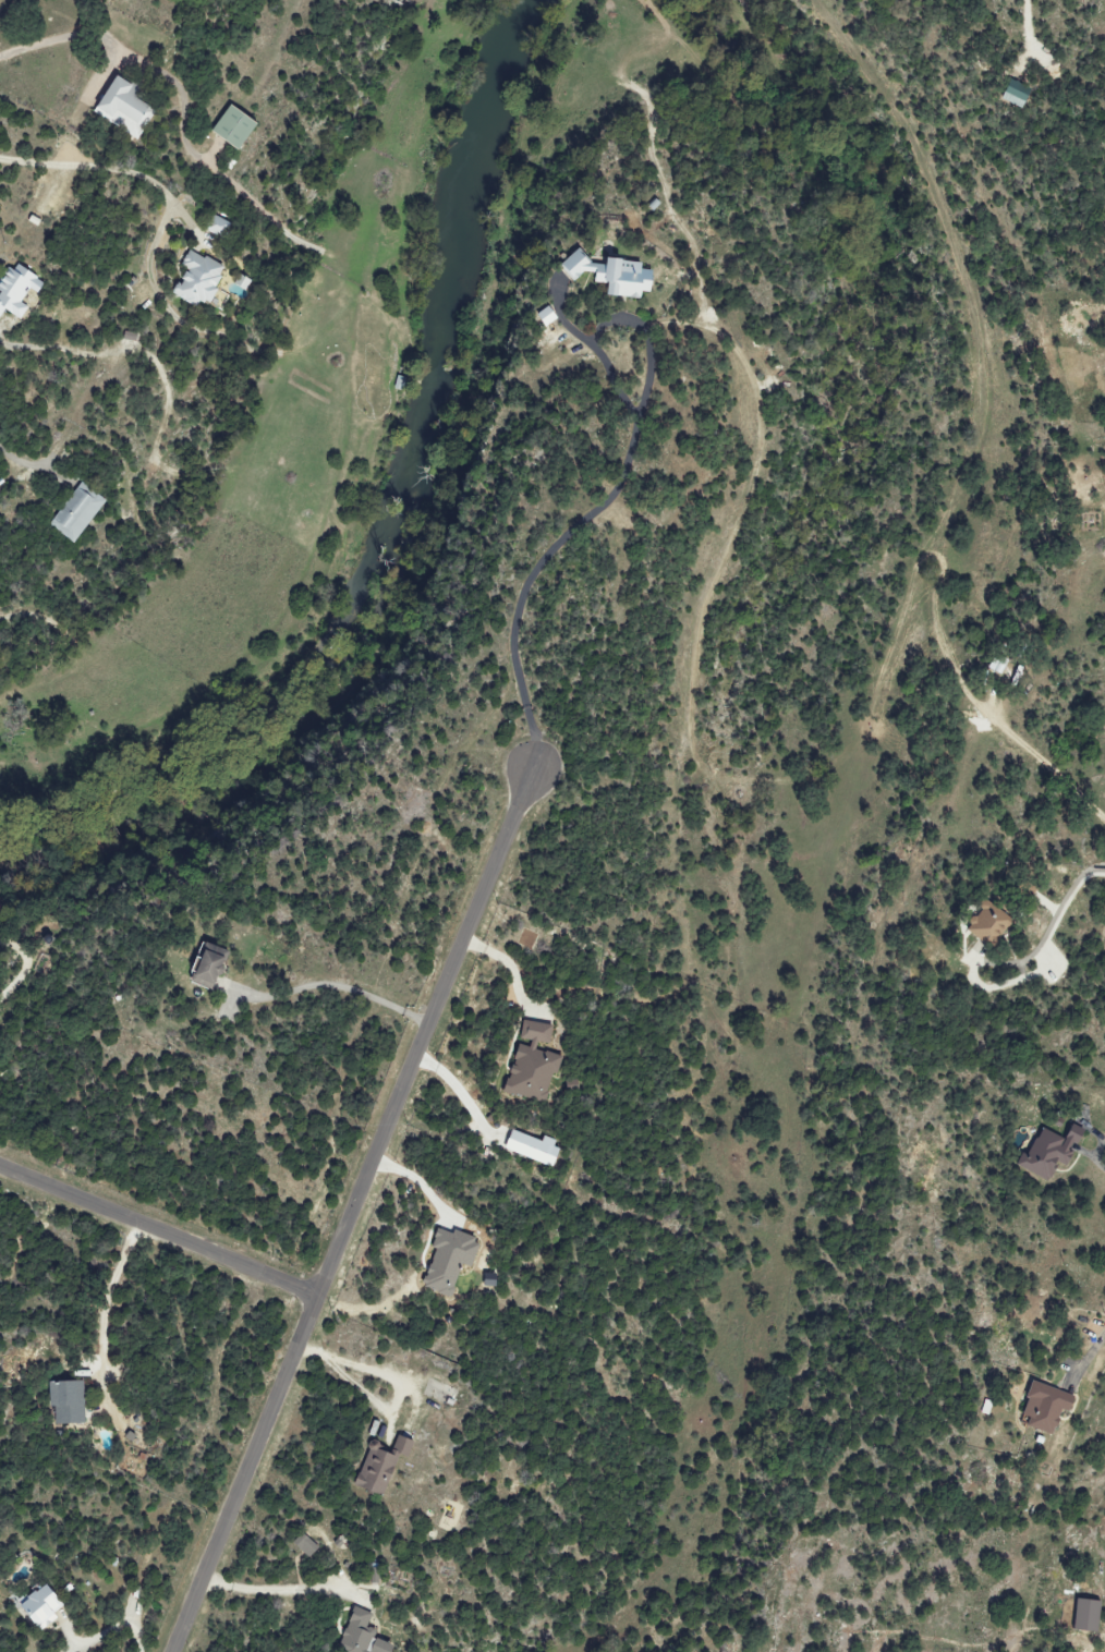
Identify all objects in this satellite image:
road: (62, 37)
building: (1011, 93)
building: (126, 108)
building: (235, 127)
road: (137, 177)
building: (217, 227)
building: (607, 275)
building: (198, 279)
building: (17, 290)
building: (543, 317)
road: (617, 321)
road: (562, 324)
building: (76, 513)
road: (525, 578)
road: (1046, 768)
road: (1066, 907)
building: (983, 924)
road: (25, 969)
building: (212, 969)
road: (336, 984)
building: (533, 1065)
building: (1051, 1152)
road: (1098, 1161)
road: (418, 1183)
road: (352, 1211)
road: (158, 1234)
building: (450, 1260)
road: (100, 1311)
road: (1090, 1351)
road: (399, 1383)
building: (68, 1402)
building: (1047, 1407)
building: (382, 1465)
building: (305, 1545)
road: (260, 1588)
building: (45, 1606)
building: (1089, 1616)
road: (113, 1631)
building: (363, 1635)

